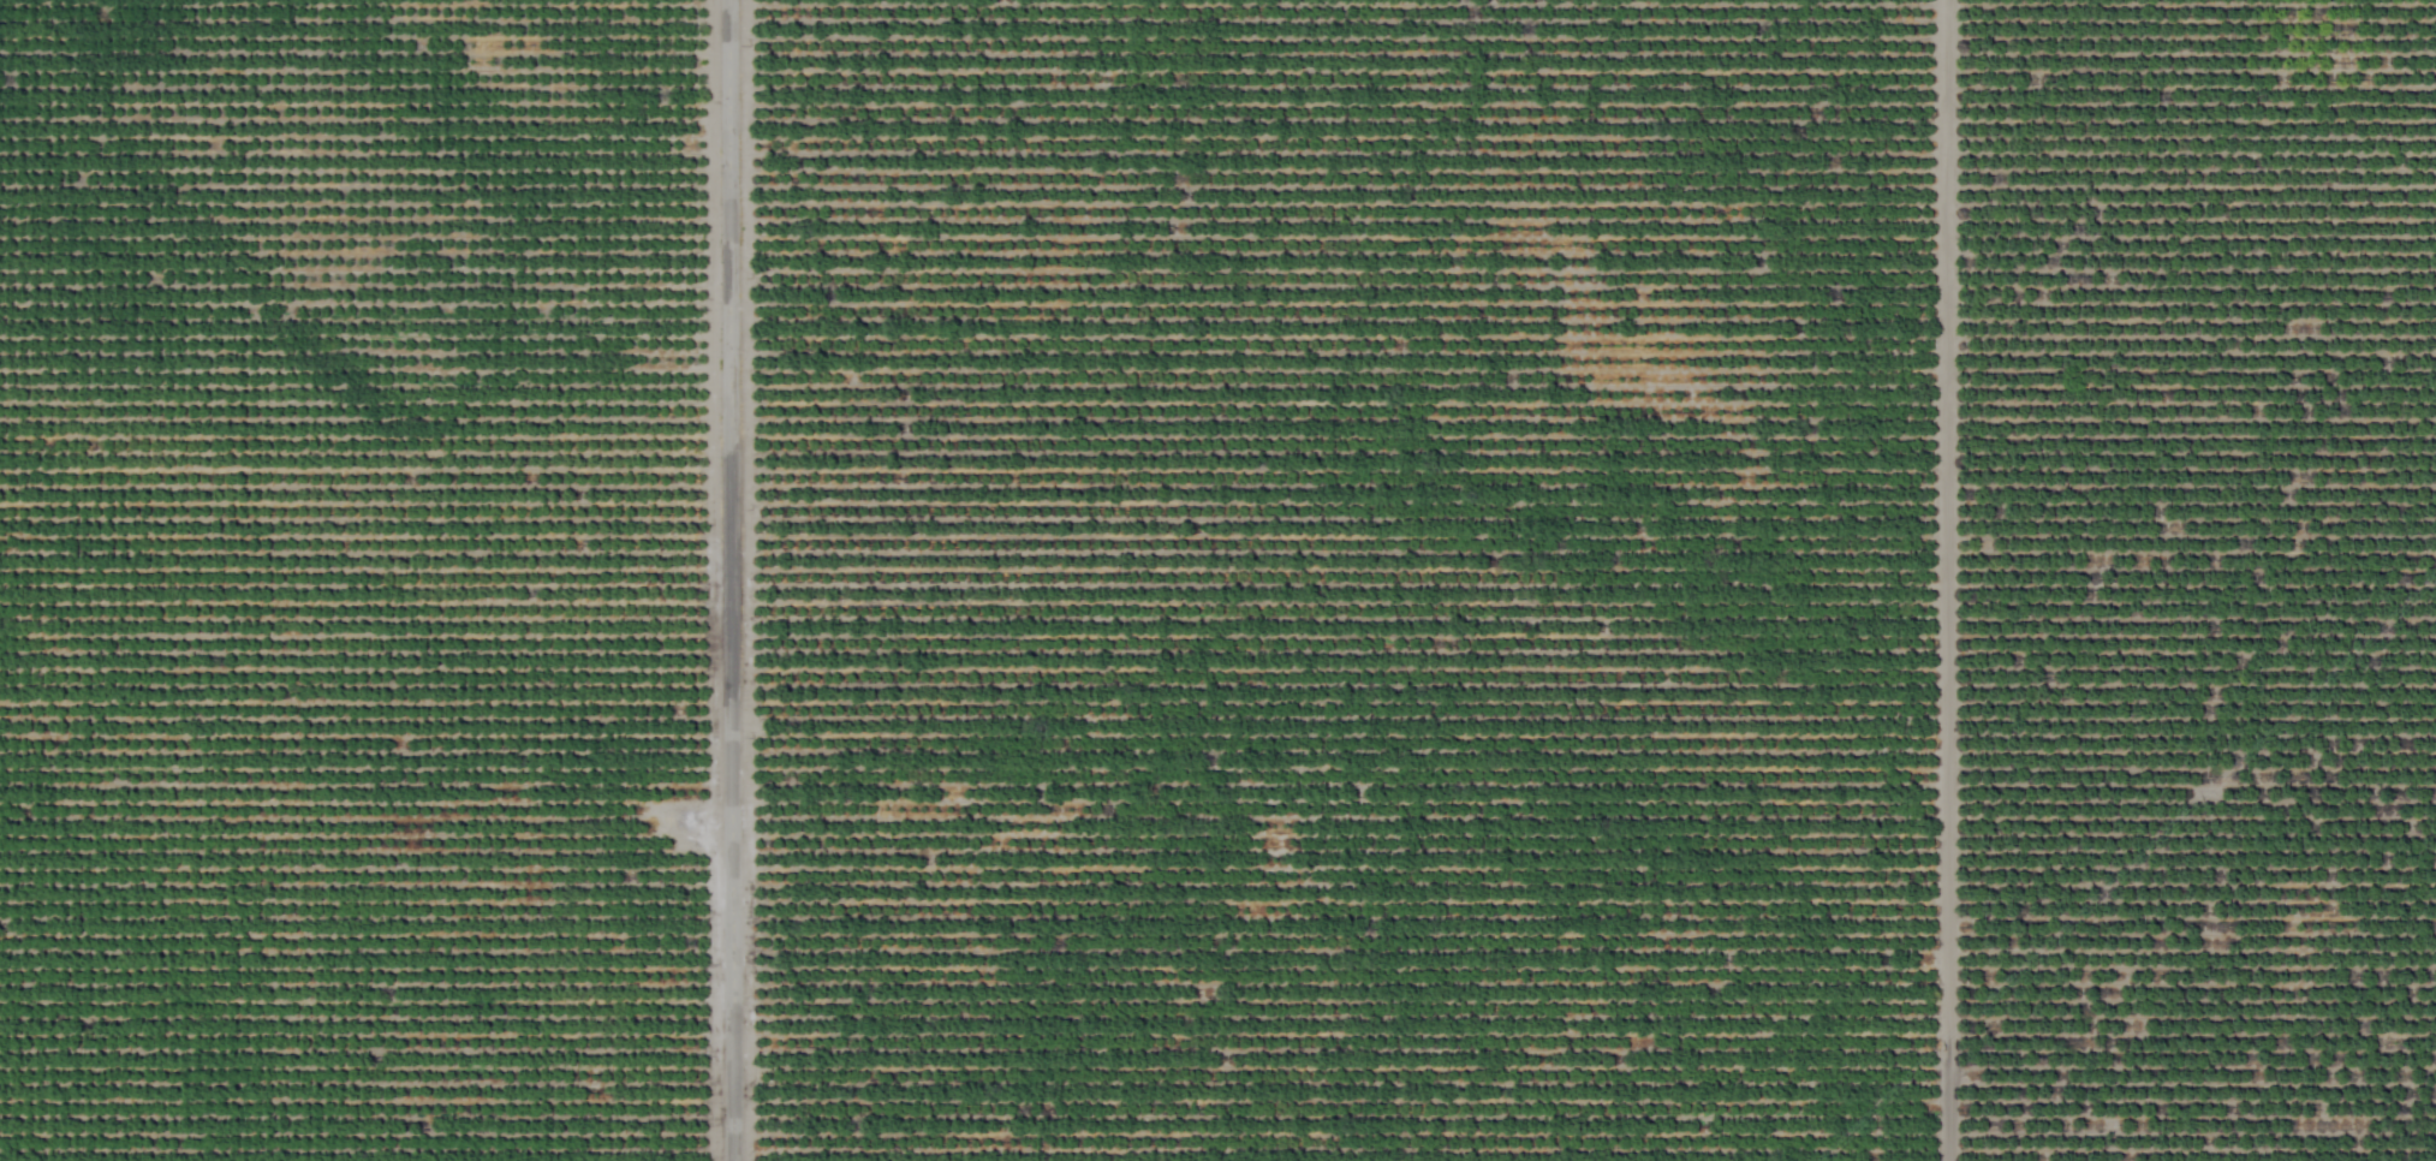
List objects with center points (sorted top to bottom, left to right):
road: (727, 580)
crop: (1217, 580)

